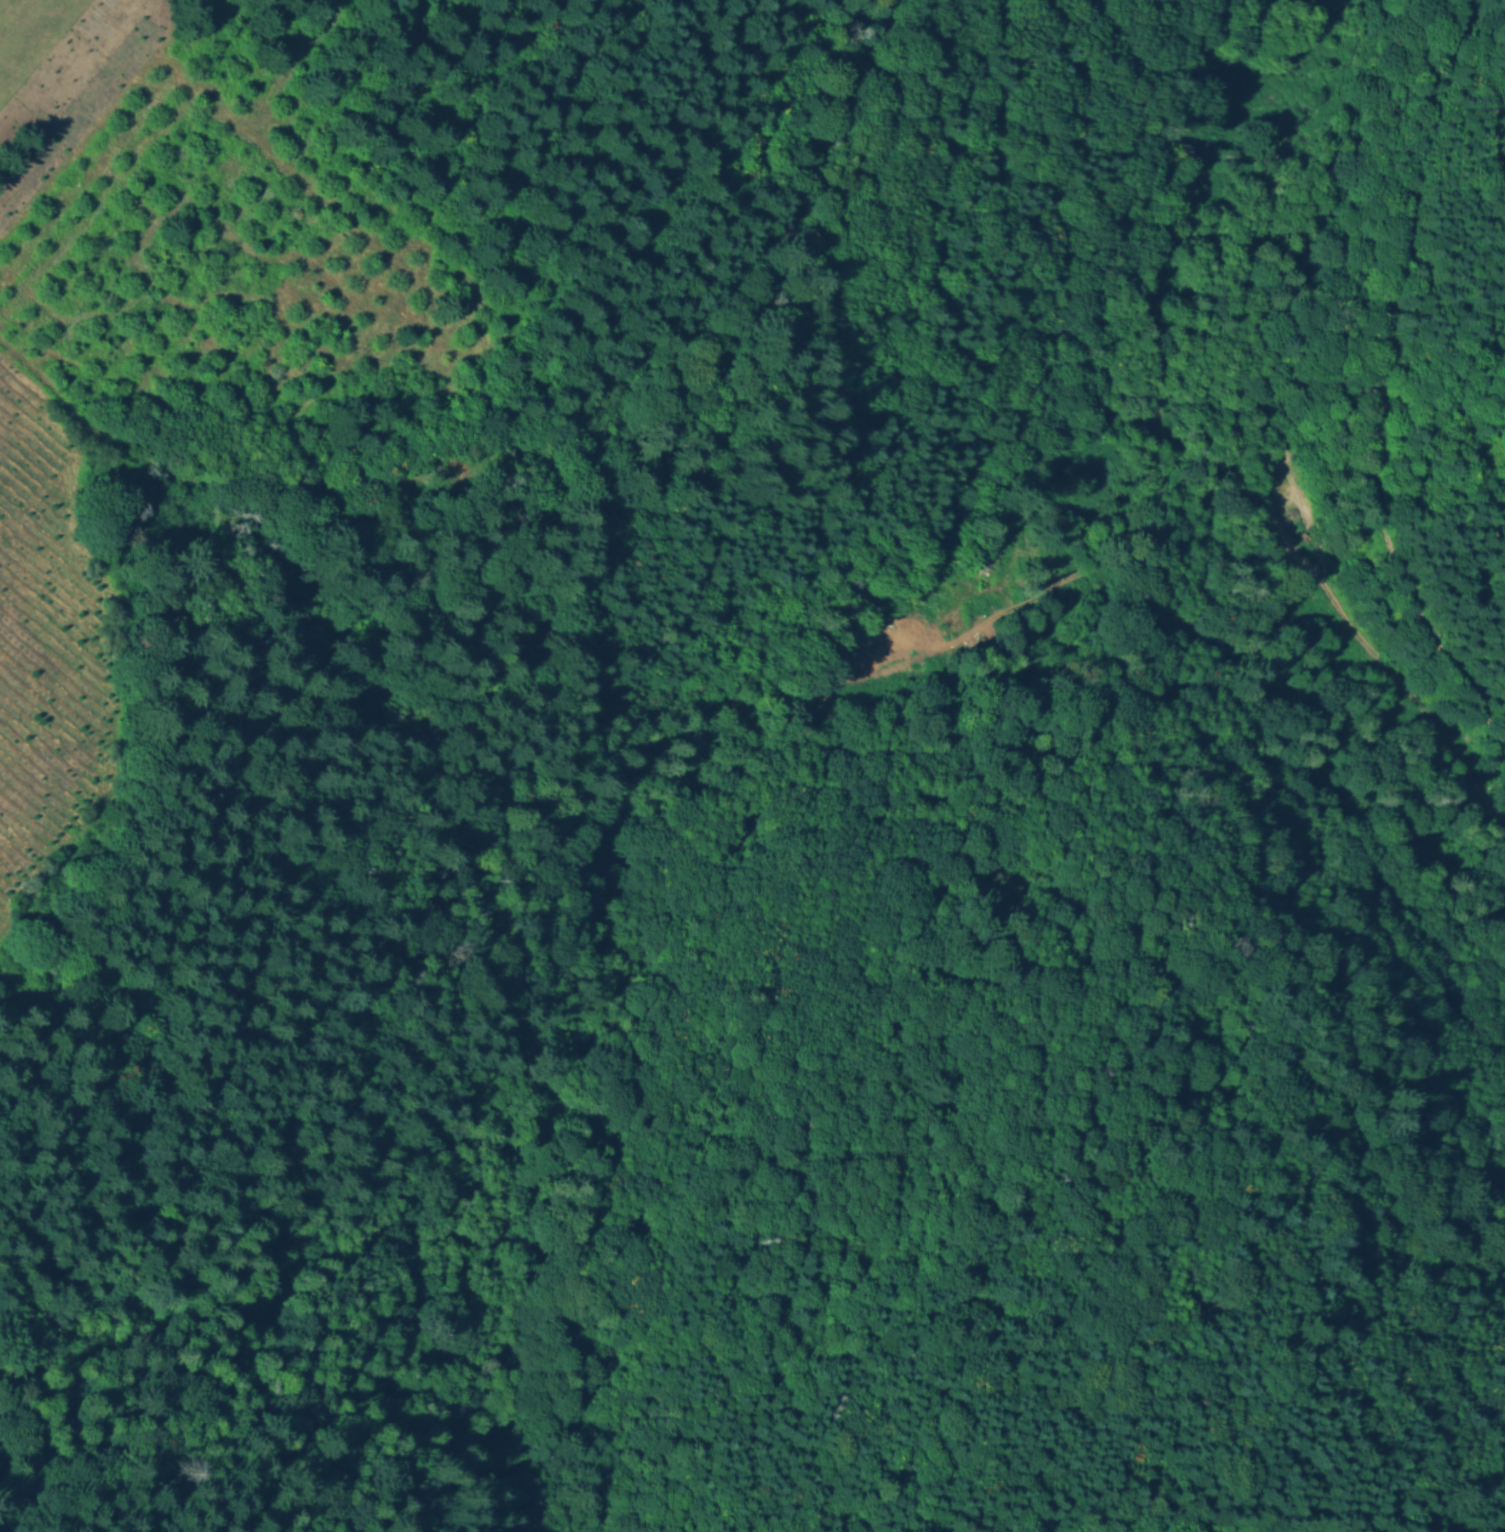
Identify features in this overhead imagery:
crop: (206, 263)
road: (1384, 417)
building: (992, 558)

